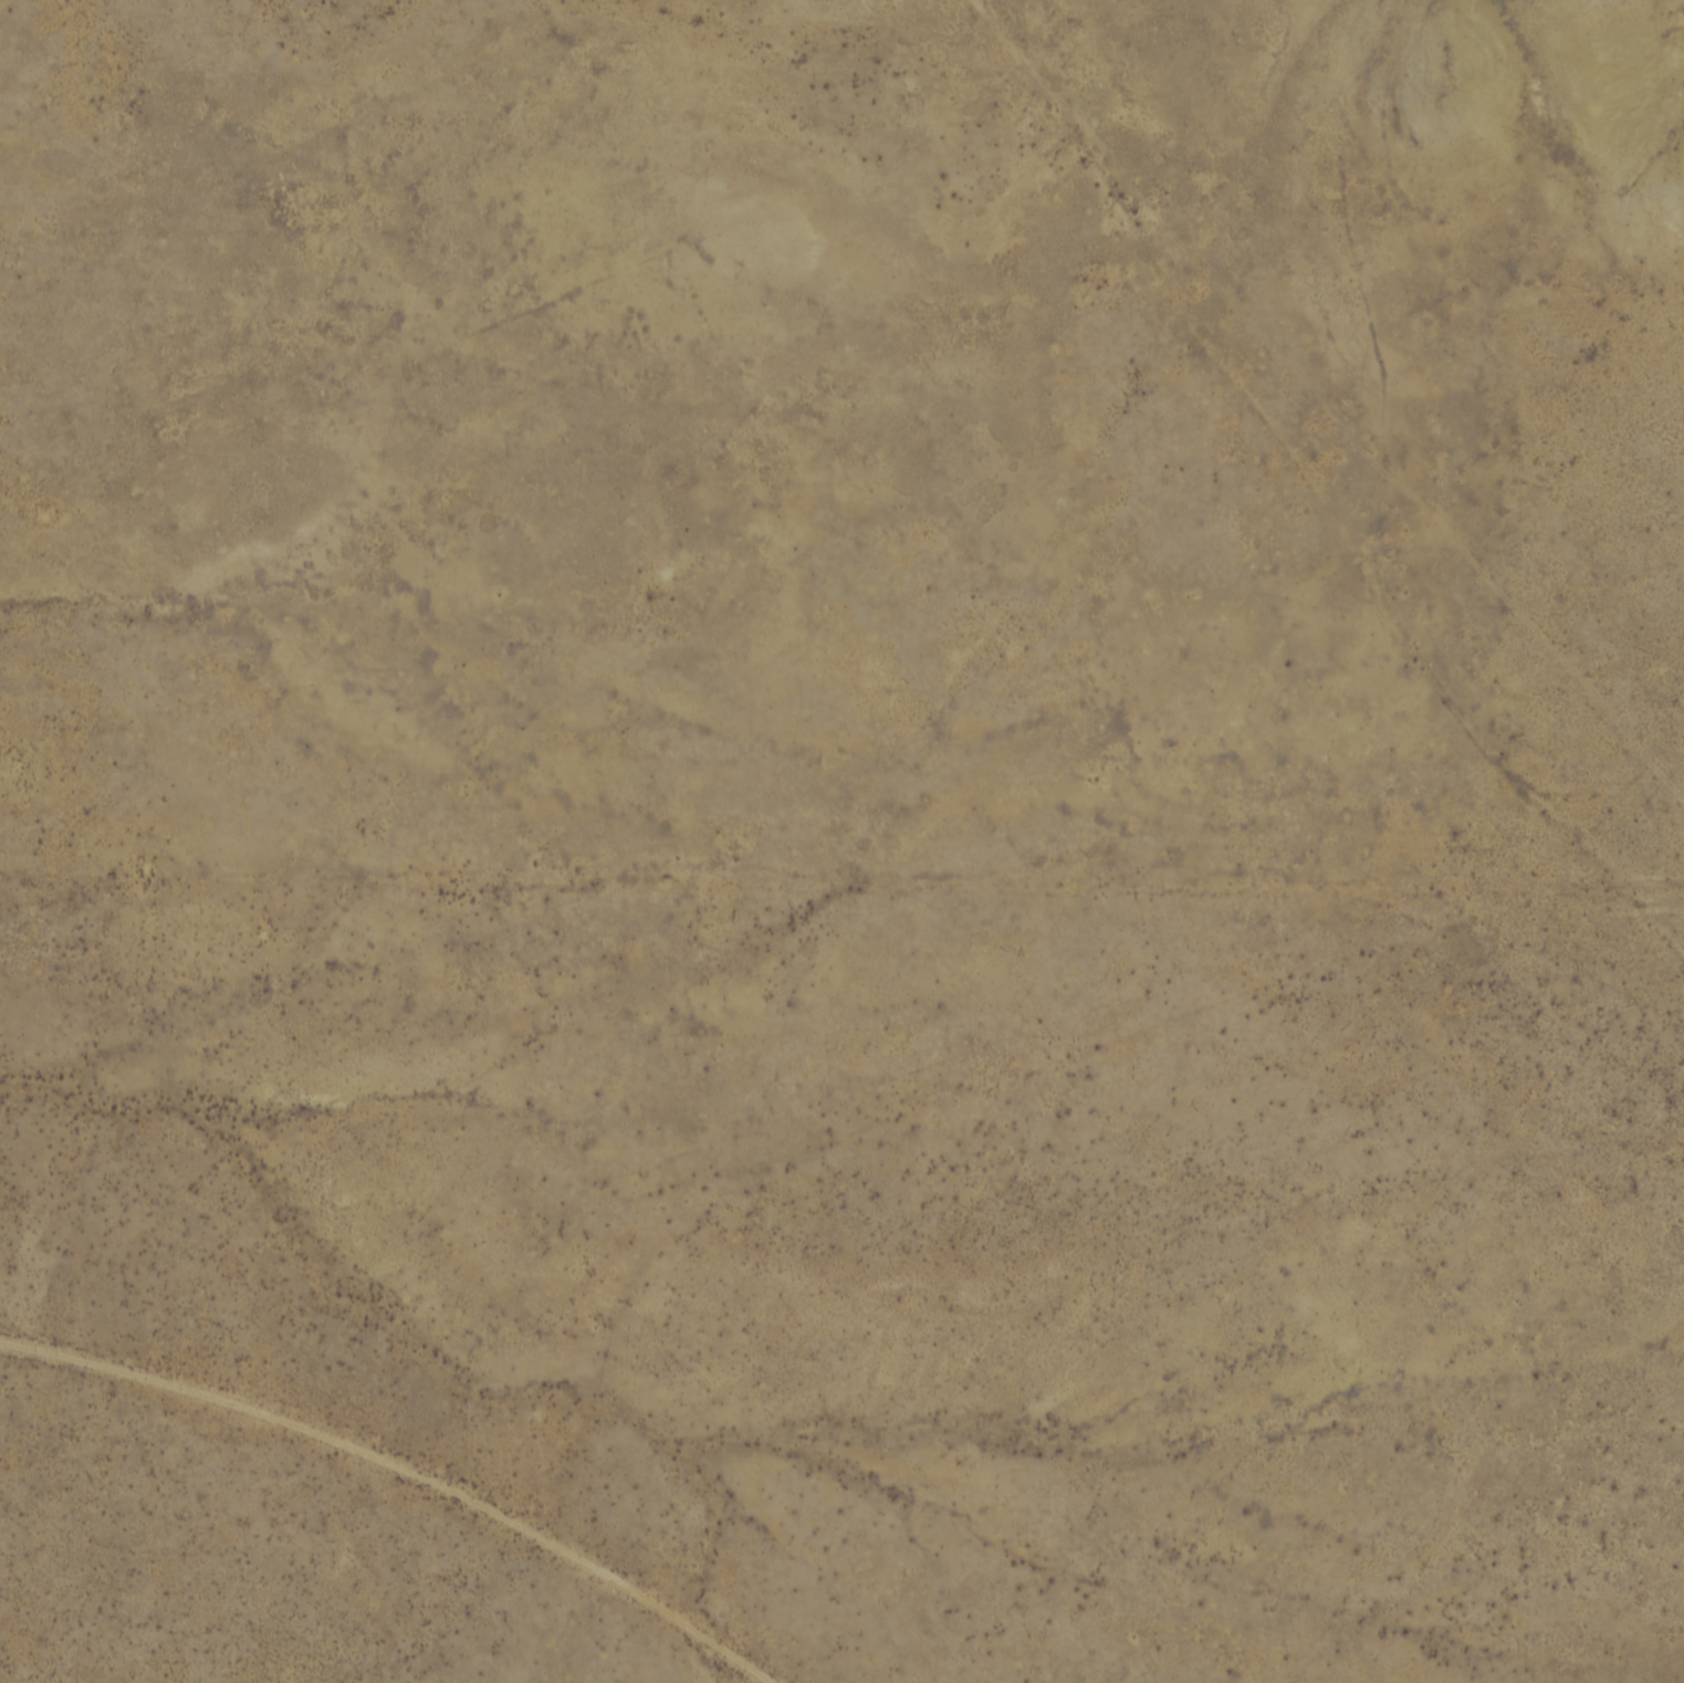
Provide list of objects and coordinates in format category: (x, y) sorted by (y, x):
road: (407, 1471)

